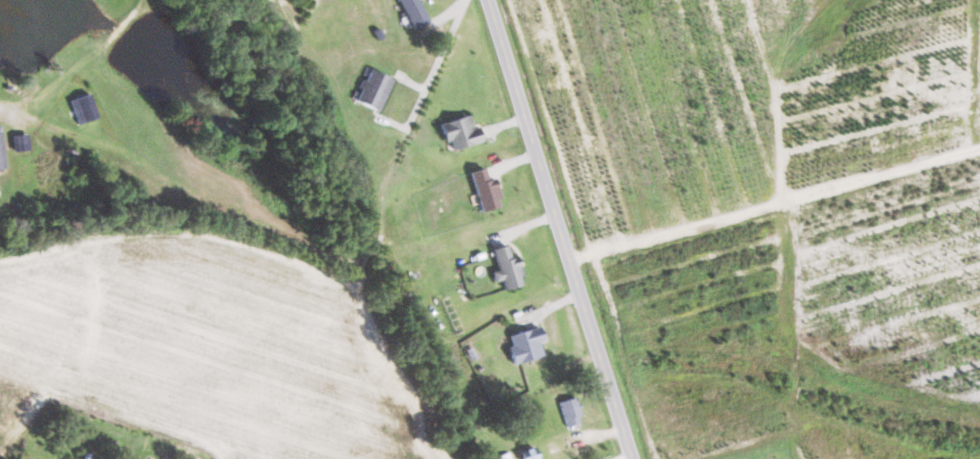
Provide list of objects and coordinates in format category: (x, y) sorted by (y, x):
building: (415, 12)
road: (438, 62)
building: (375, 88)
building: (84, 108)
building: (461, 131)
building: (2, 149)
building: (486, 189)
road: (556, 229)
building: (508, 267)
building: (527, 344)
building: (572, 411)
building: (531, 453)

